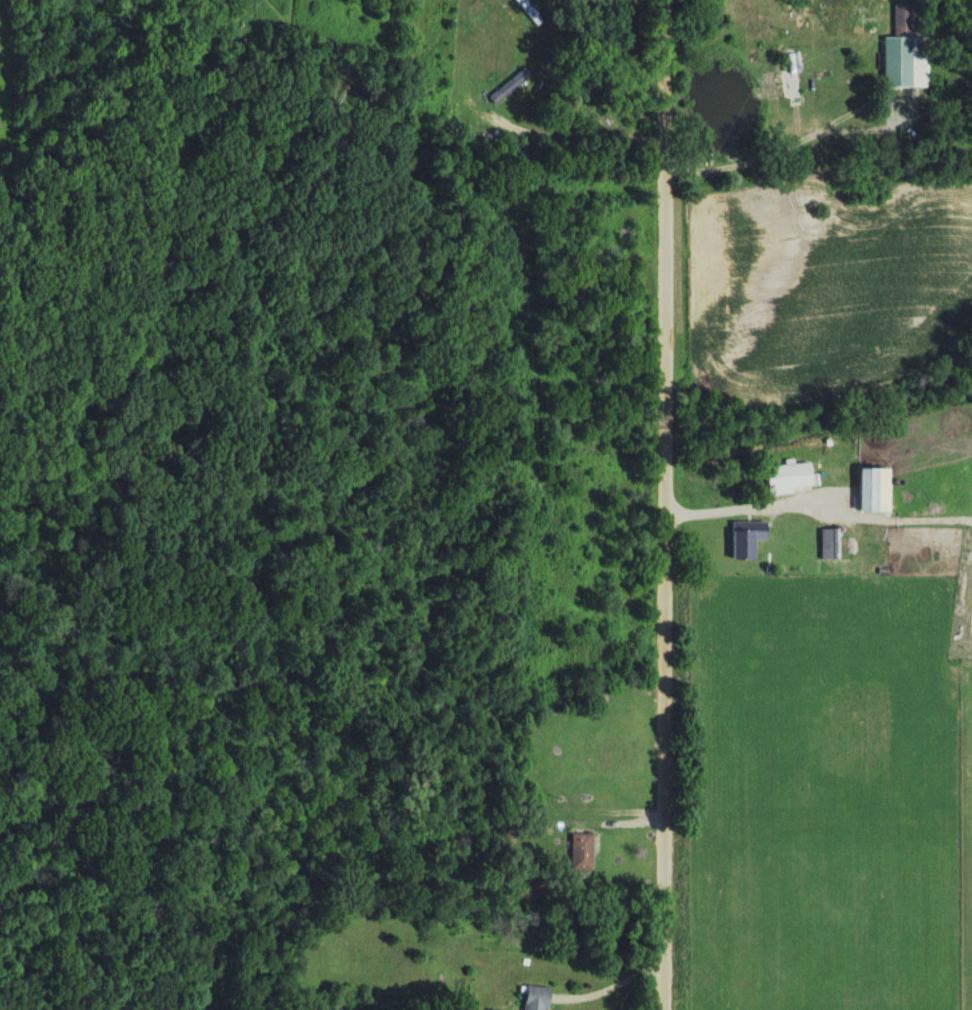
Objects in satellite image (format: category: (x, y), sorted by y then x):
building: (891, 62)
building: (877, 491)
road: (664, 505)
building: (746, 539)
building: (826, 547)
building: (822, 587)
building: (582, 853)
building: (528, 998)

